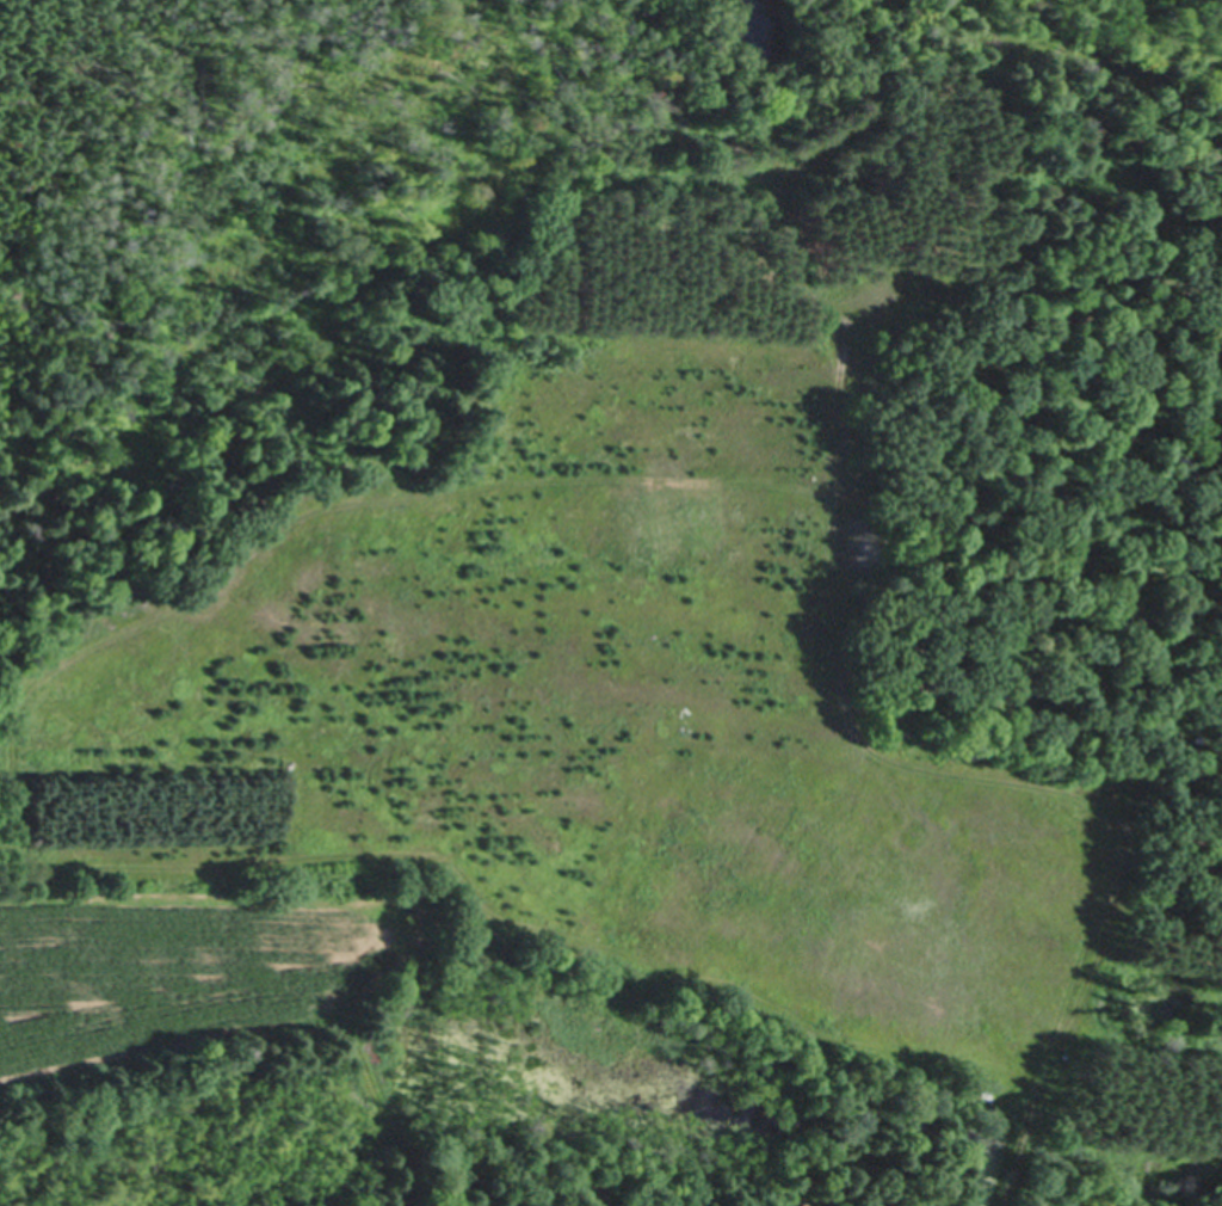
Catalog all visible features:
building: (985, 1091)
building: (989, 1108)

